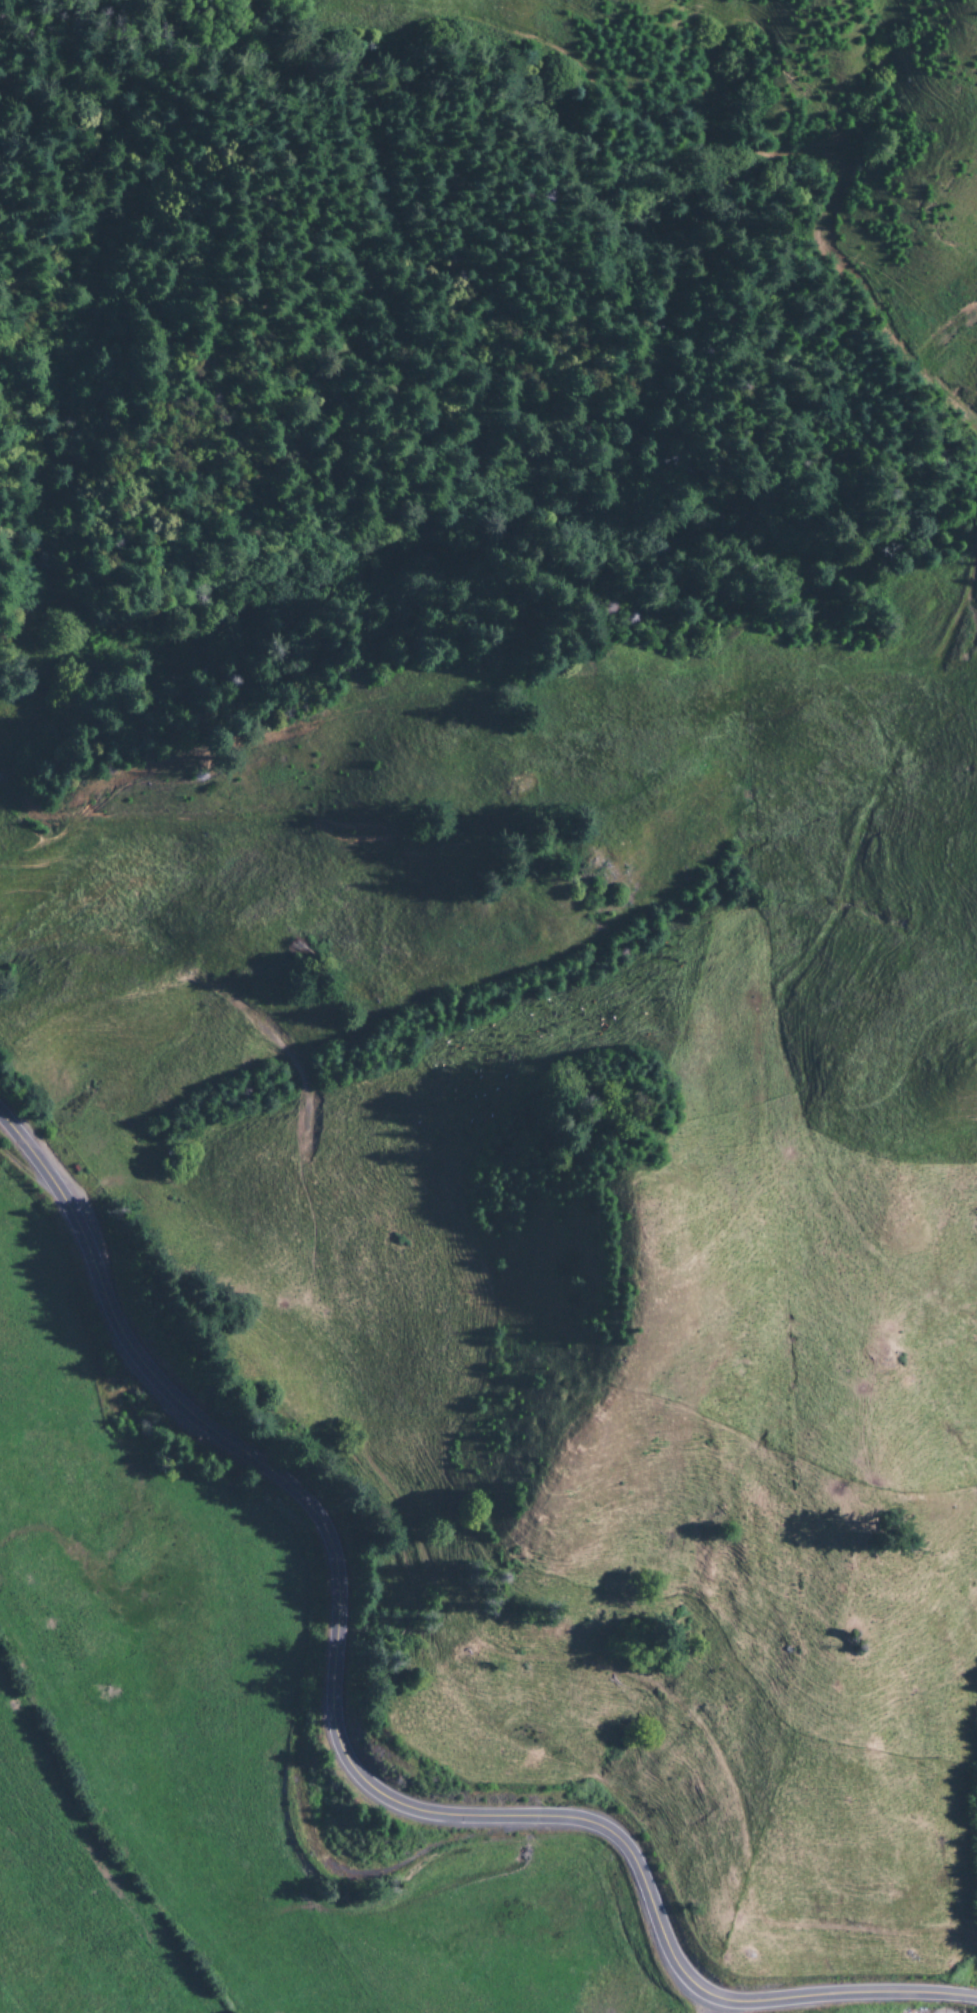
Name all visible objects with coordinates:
road: (340, 1754)

